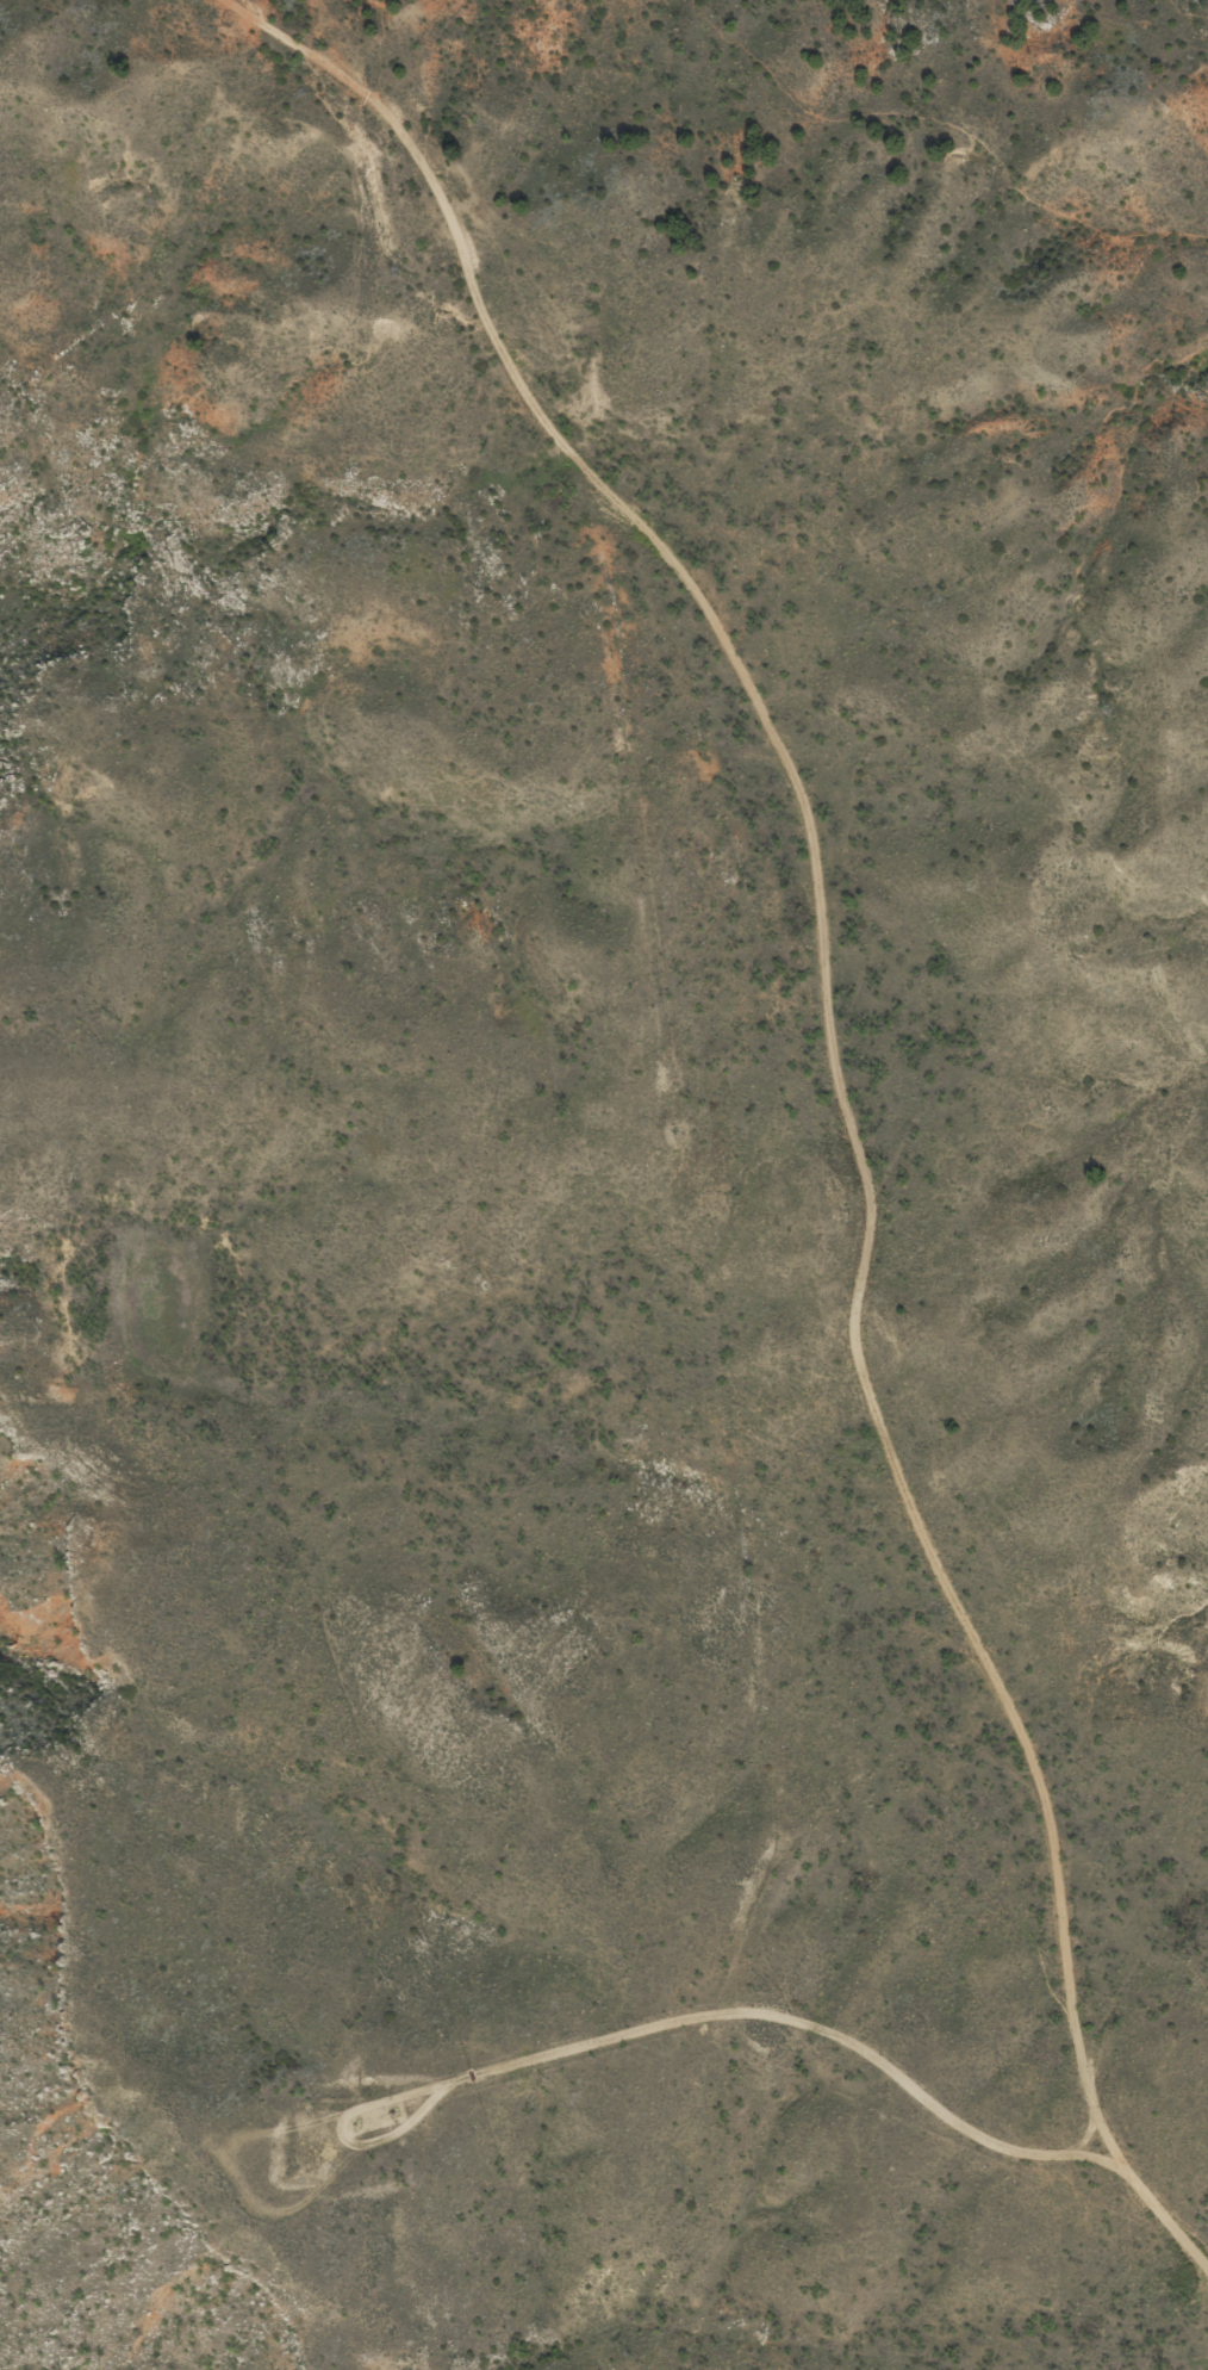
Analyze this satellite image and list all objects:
road: (839, 1060)
road: (776, 1997)

